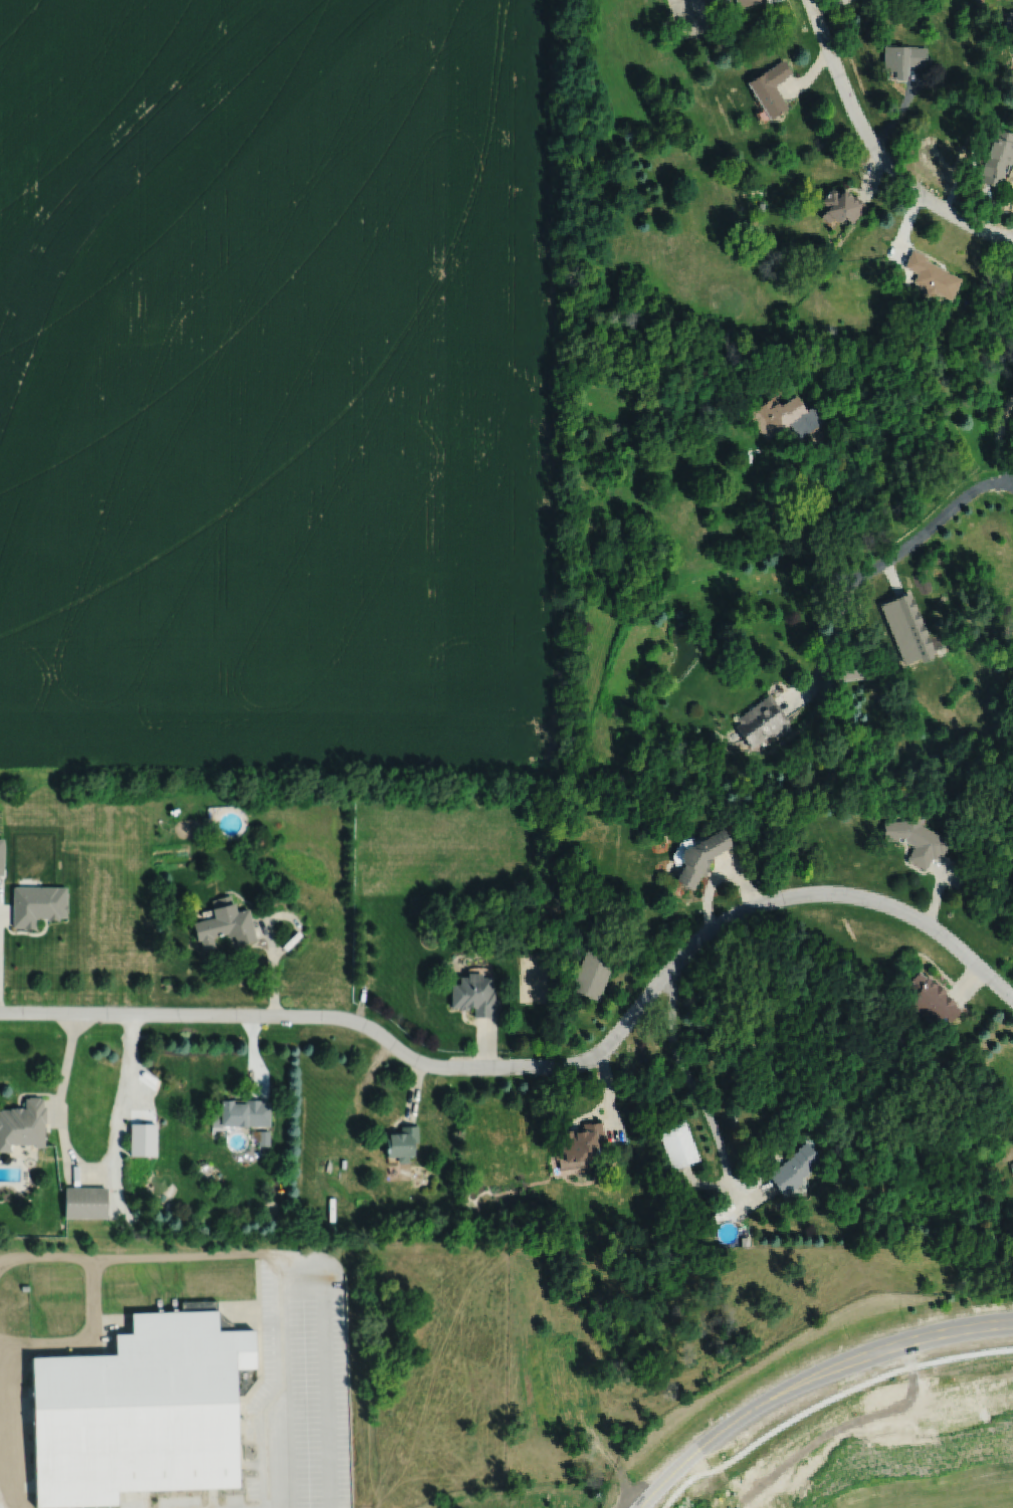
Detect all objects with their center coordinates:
building: (746, 3)
building: (903, 59)
building: (770, 89)
road: (877, 150)
building: (997, 158)
building: (840, 207)
building: (931, 276)
road: (1009, 408)
building: (785, 417)
road: (1001, 445)
road: (1010, 481)
road: (777, 518)
road: (936, 527)
building: (907, 629)
road: (830, 640)
building: (850, 670)
building: (760, 721)
building: (916, 841)
building: (0, 855)
building: (701, 857)
building: (36, 904)
building: (223, 925)
building: (591, 974)
building: (473, 994)
building: (931, 1002)
road: (549, 1065)
road: (695, 1088)
building: (241, 1113)
building: (22, 1123)
building: (261, 1137)
building: (141, 1138)
building: (400, 1142)
building: (582, 1142)
building: (678, 1145)
road: (88, 1166)
building: (795, 1169)
building: (84, 1202)
road: (809, 1377)
road: (822, 1387)

